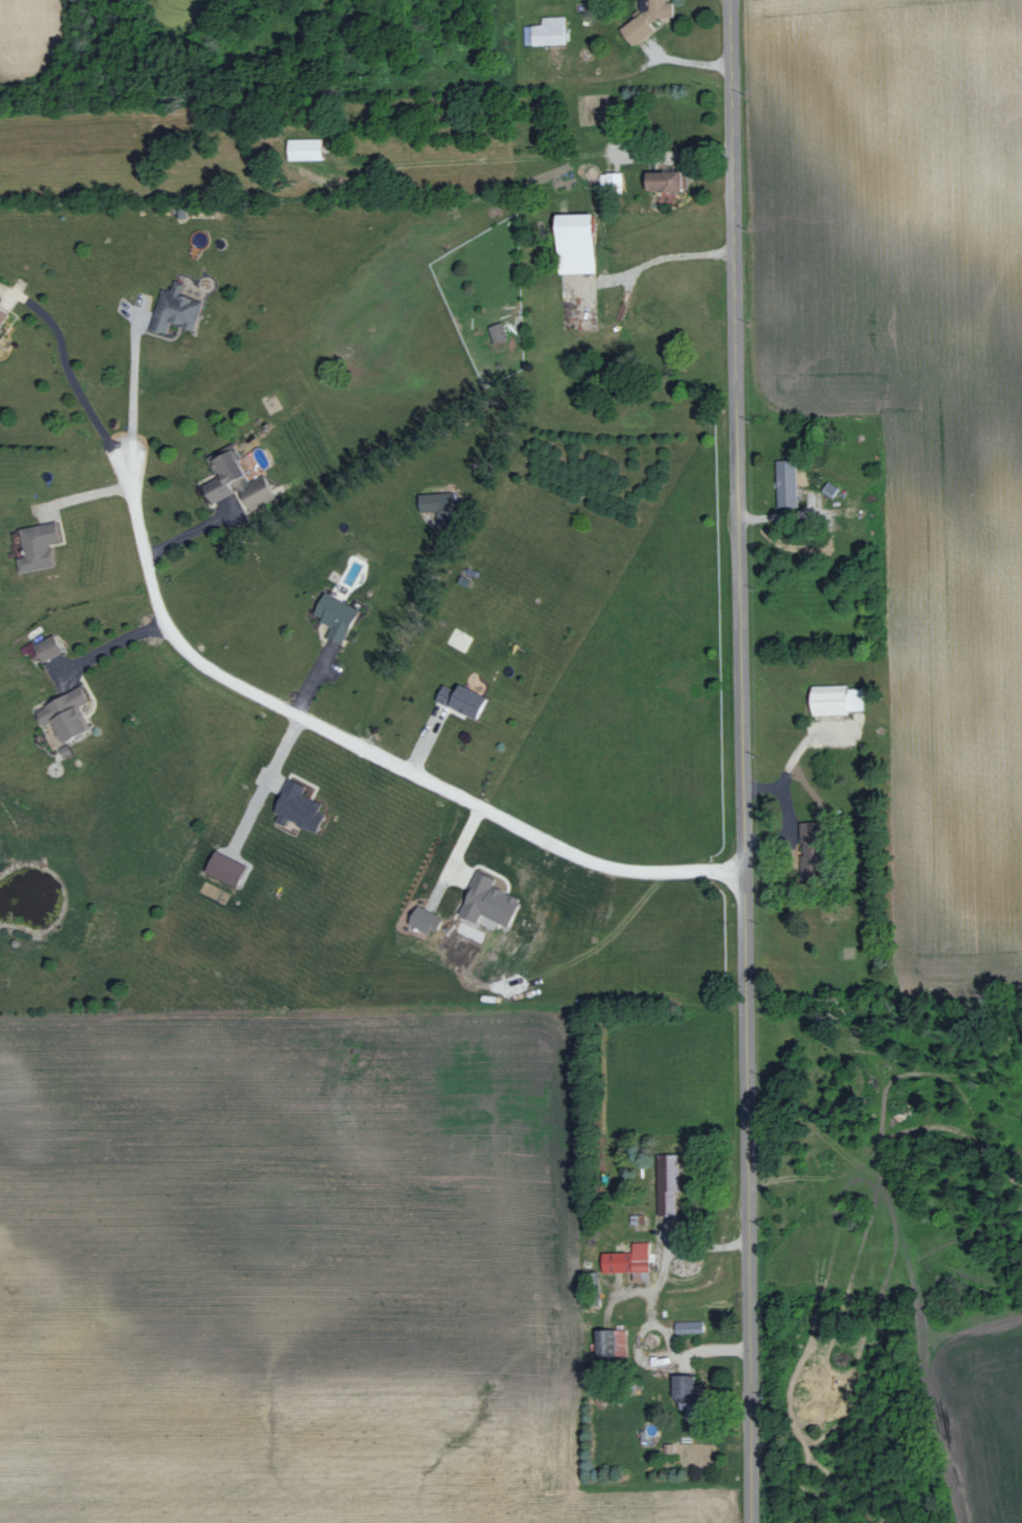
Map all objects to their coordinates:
building: (650, 19)
building: (548, 30)
building: (308, 148)
building: (672, 179)
building: (582, 241)
building: (177, 308)
building: (3, 317)
building: (500, 331)
road: (68, 369)
road: (131, 381)
building: (789, 482)
building: (833, 488)
road: (82, 497)
road: (736, 505)
building: (440, 506)
road: (190, 529)
building: (43, 545)
building: (339, 615)
building: (51, 646)
road: (108, 646)
building: (468, 699)
building: (71, 713)
road: (363, 748)
road: (265, 781)
building: (303, 807)
building: (230, 868)
building: (494, 901)
building: (428, 919)
building: (631, 1259)
road: (747, 1266)
building: (690, 1326)
building: (692, 1392)

